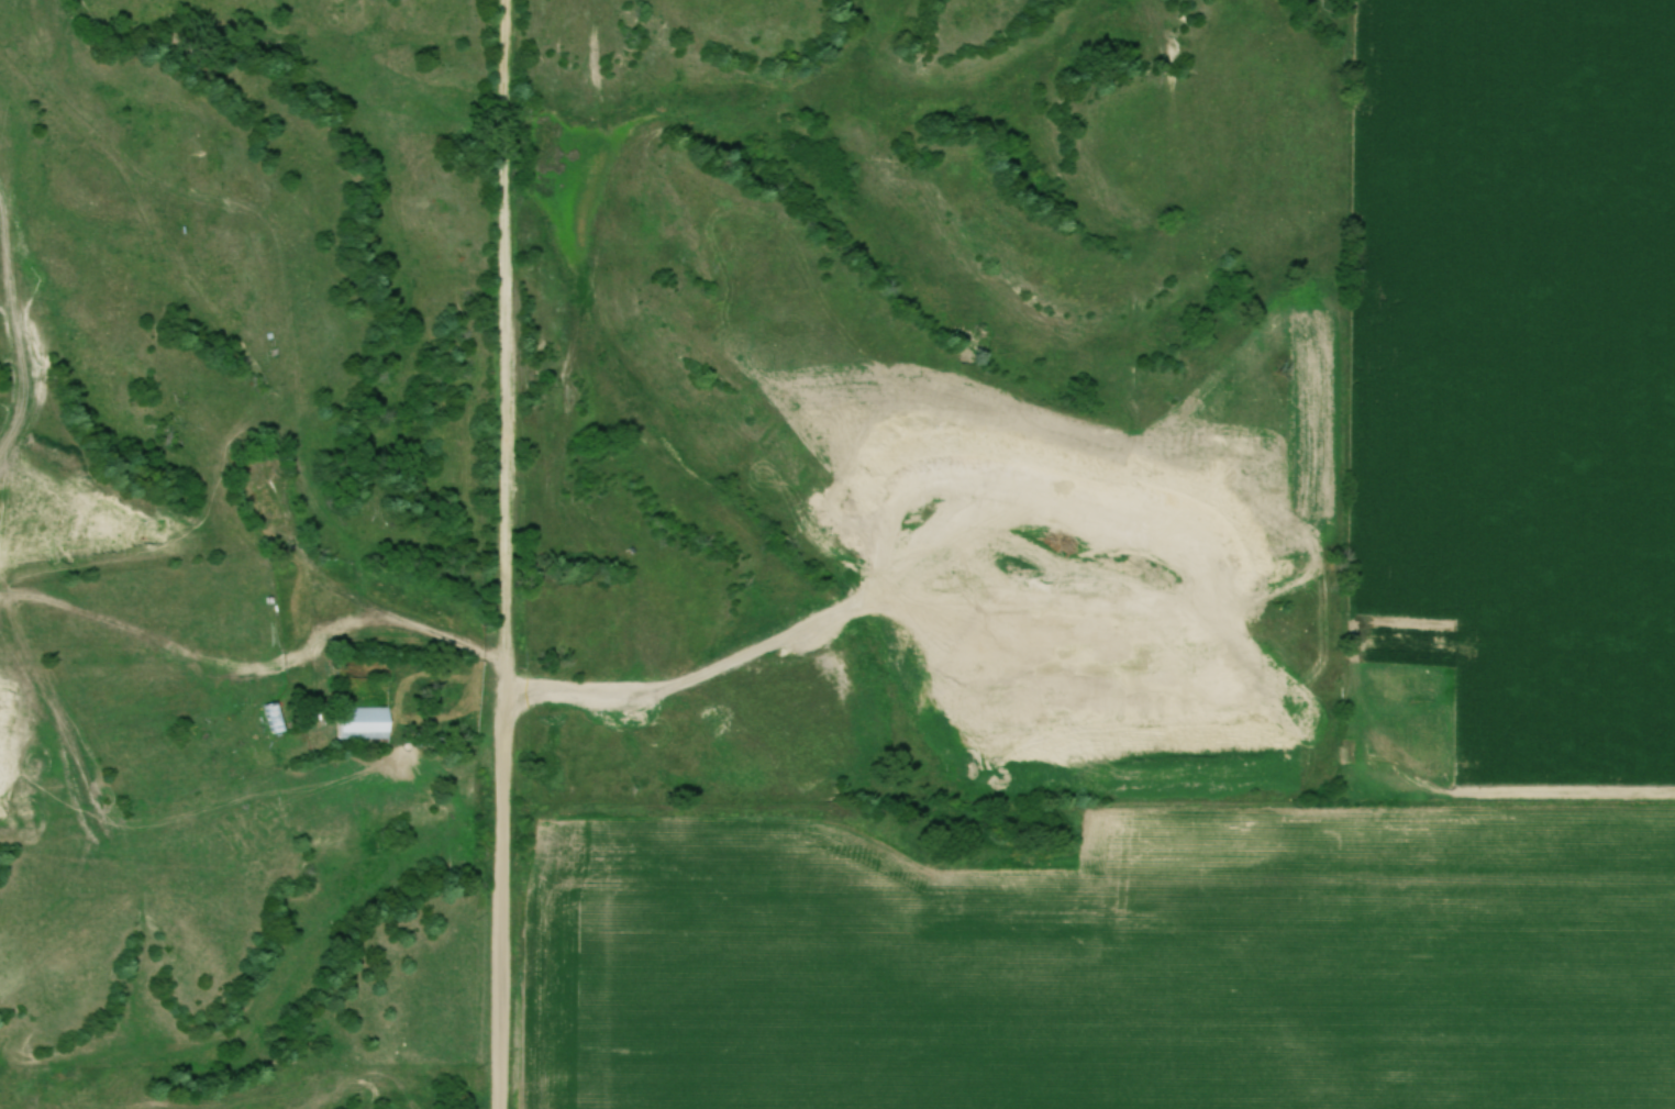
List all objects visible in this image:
building: (259, 479)
road: (507, 554)
road: (364, 609)
building: (274, 719)
building: (365, 724)

